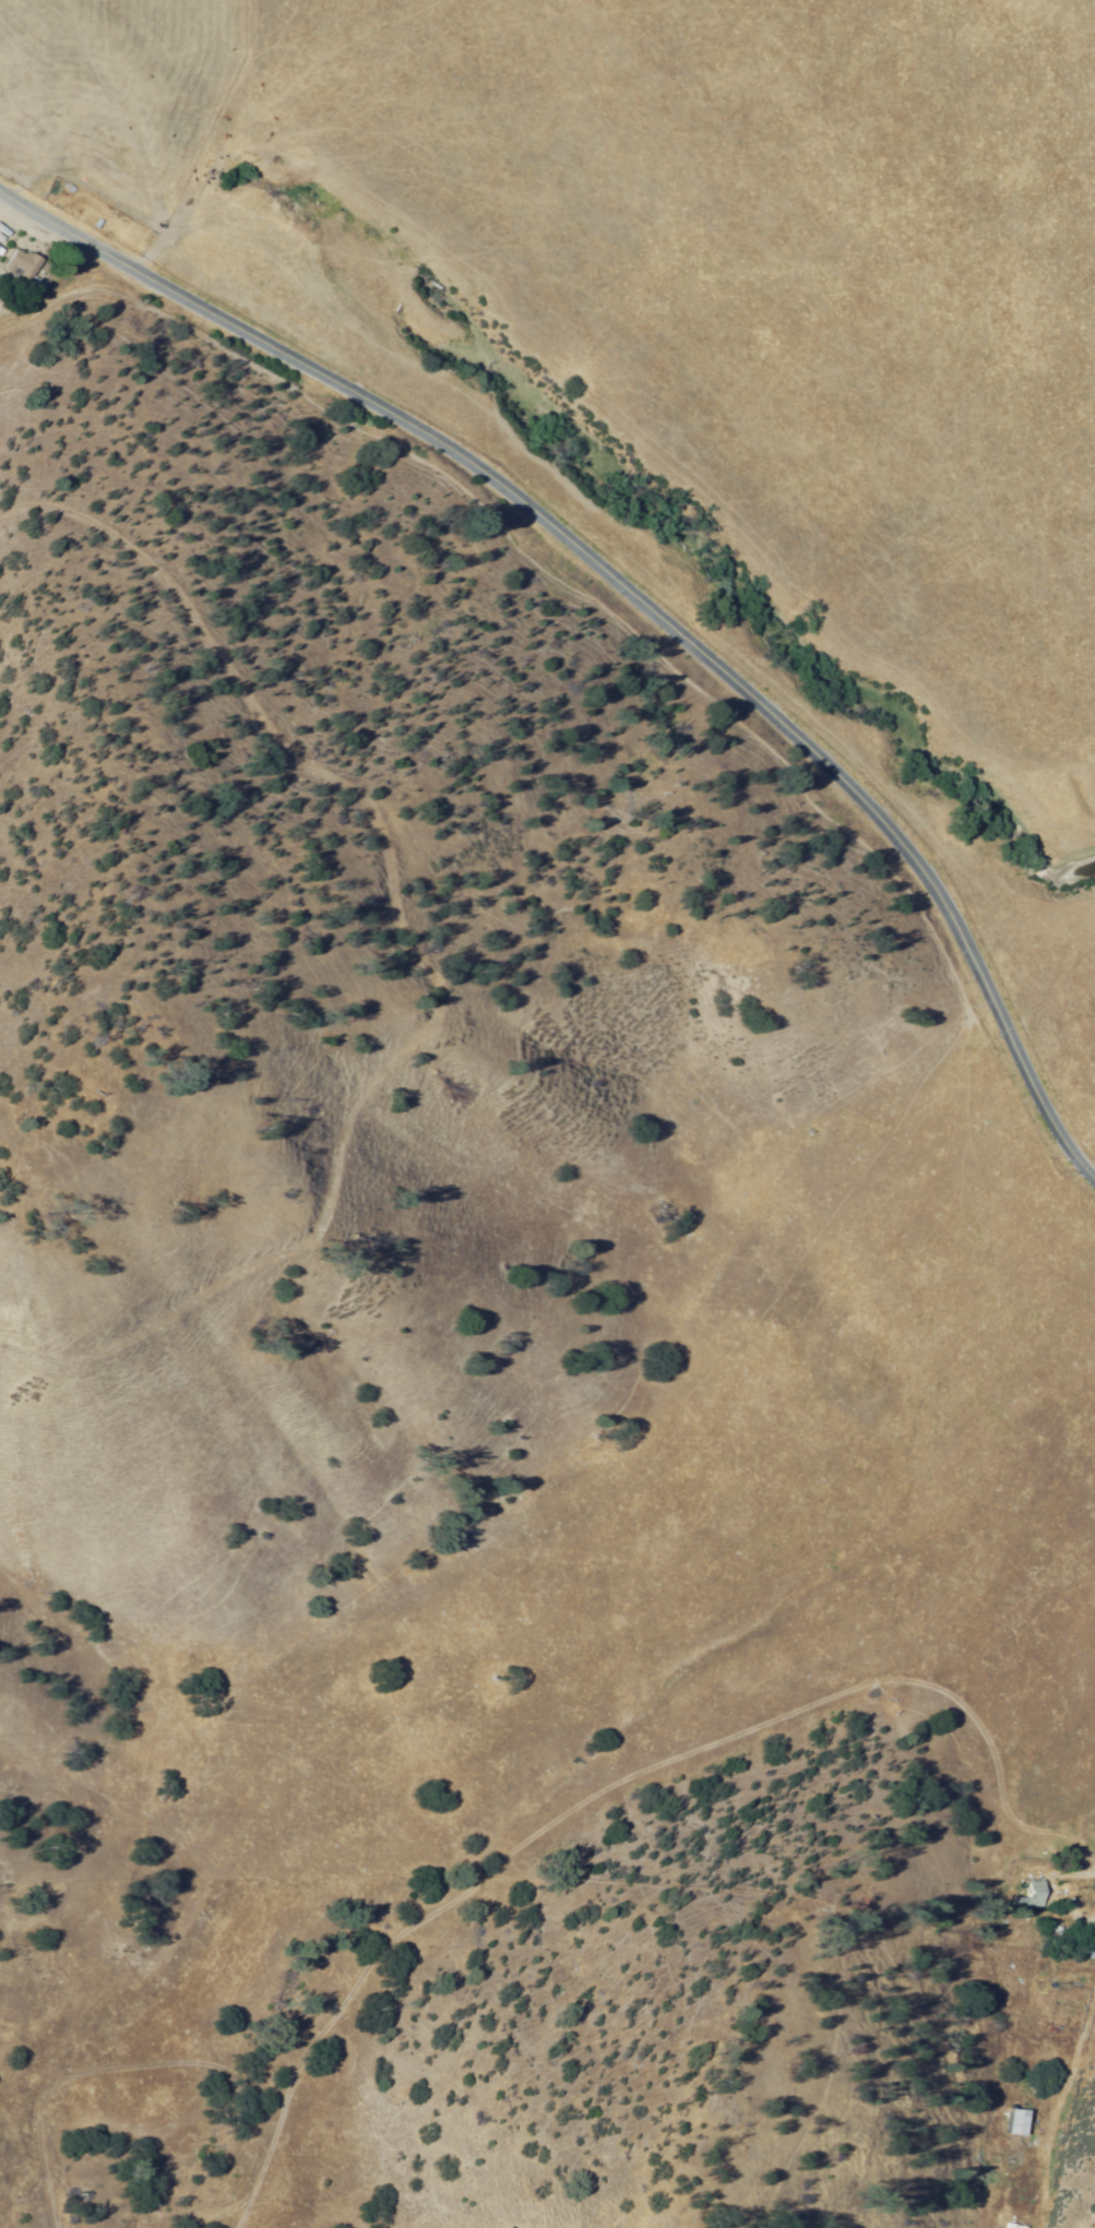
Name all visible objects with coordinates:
building: (16, 265)
crop: (690, 278)
road: (636, 592)
crop: (1066, 1028)
crop: (736, 1489)
building: (1074, 1896)
building: (1013, 1901)
building: (1084, 1951)
building: (1007, 2122)

